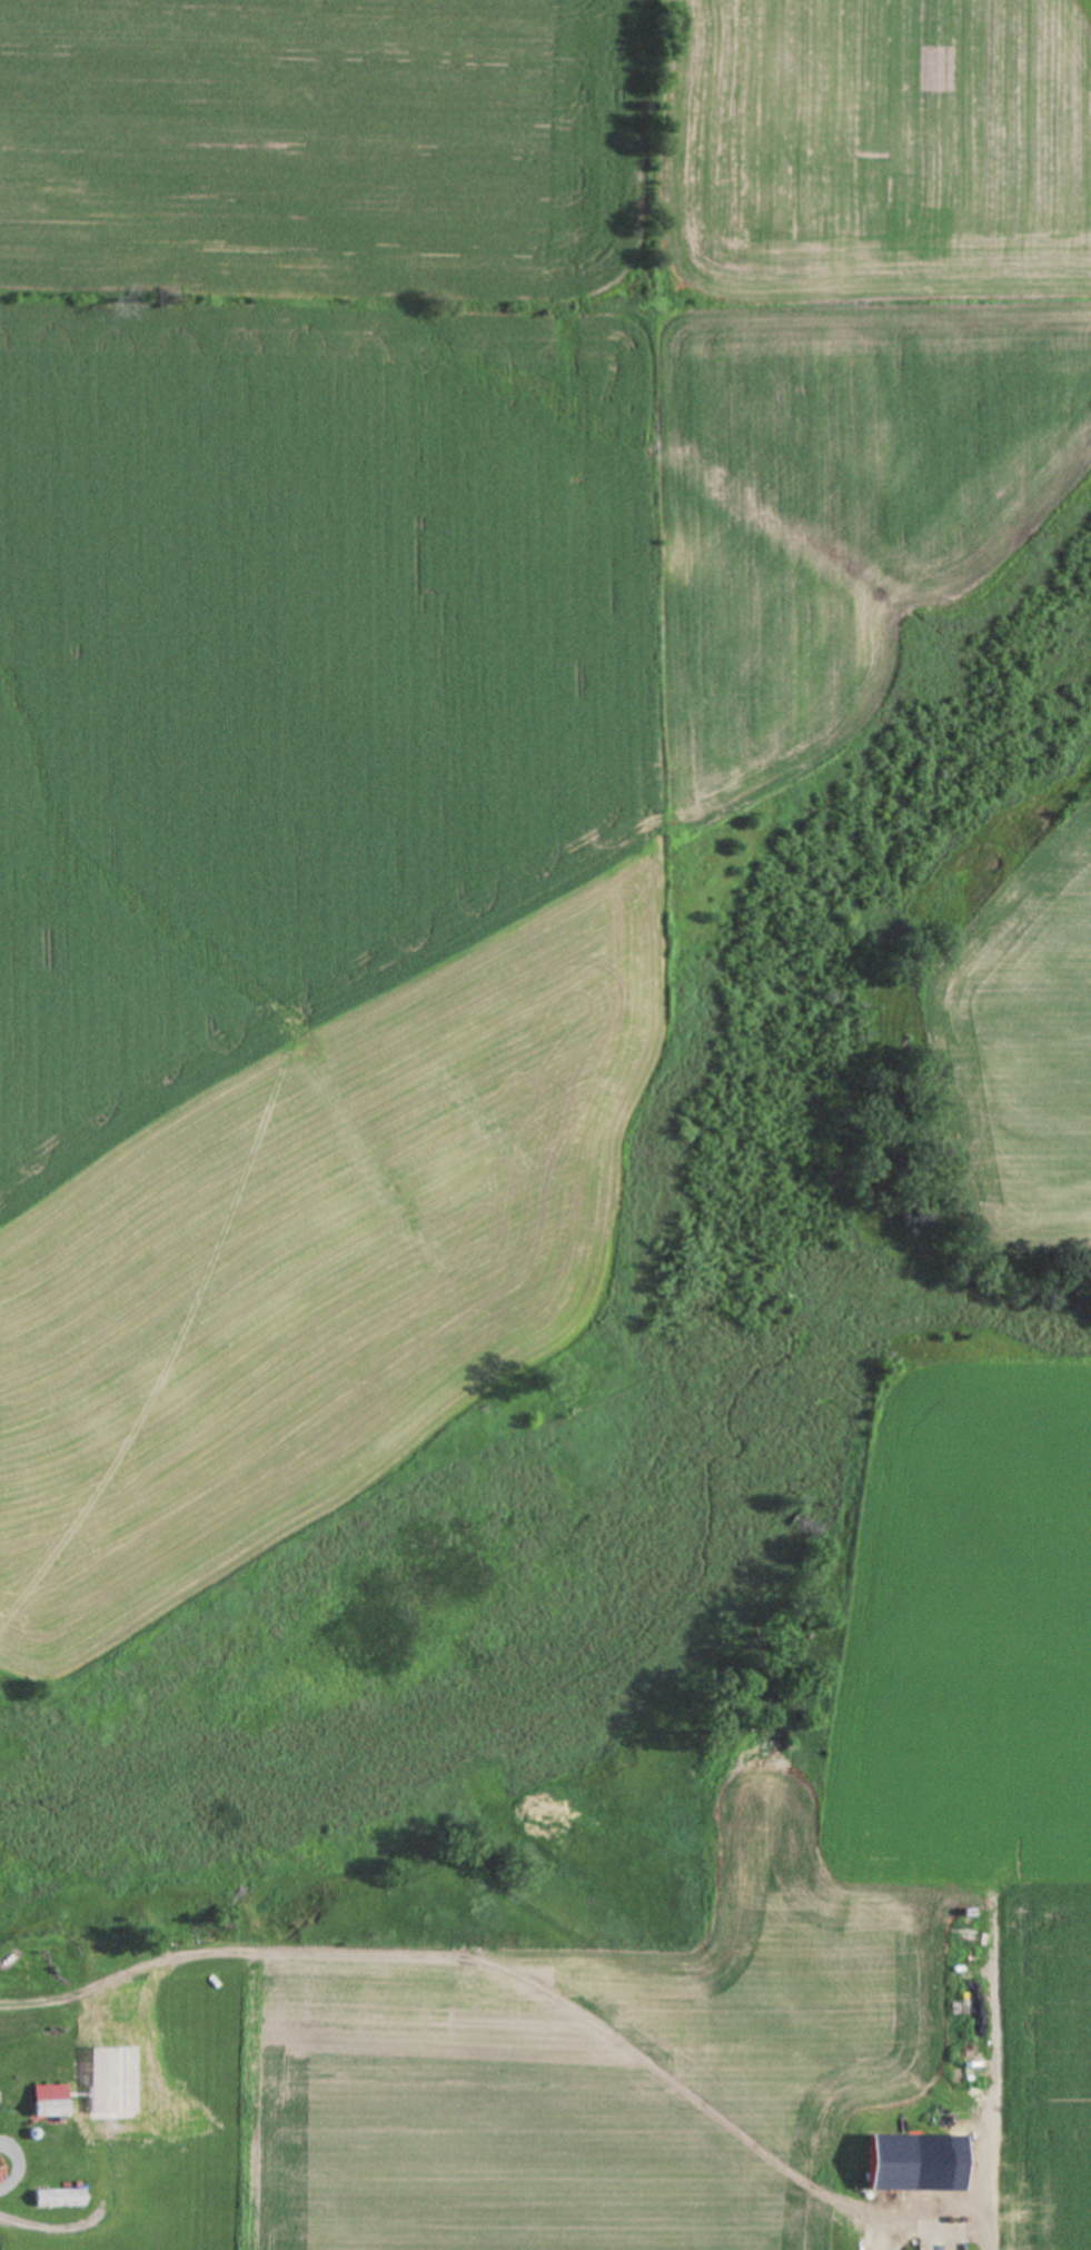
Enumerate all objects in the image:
building: (52, 2104)
road: (18, 2173)
road: (948, 2198)

